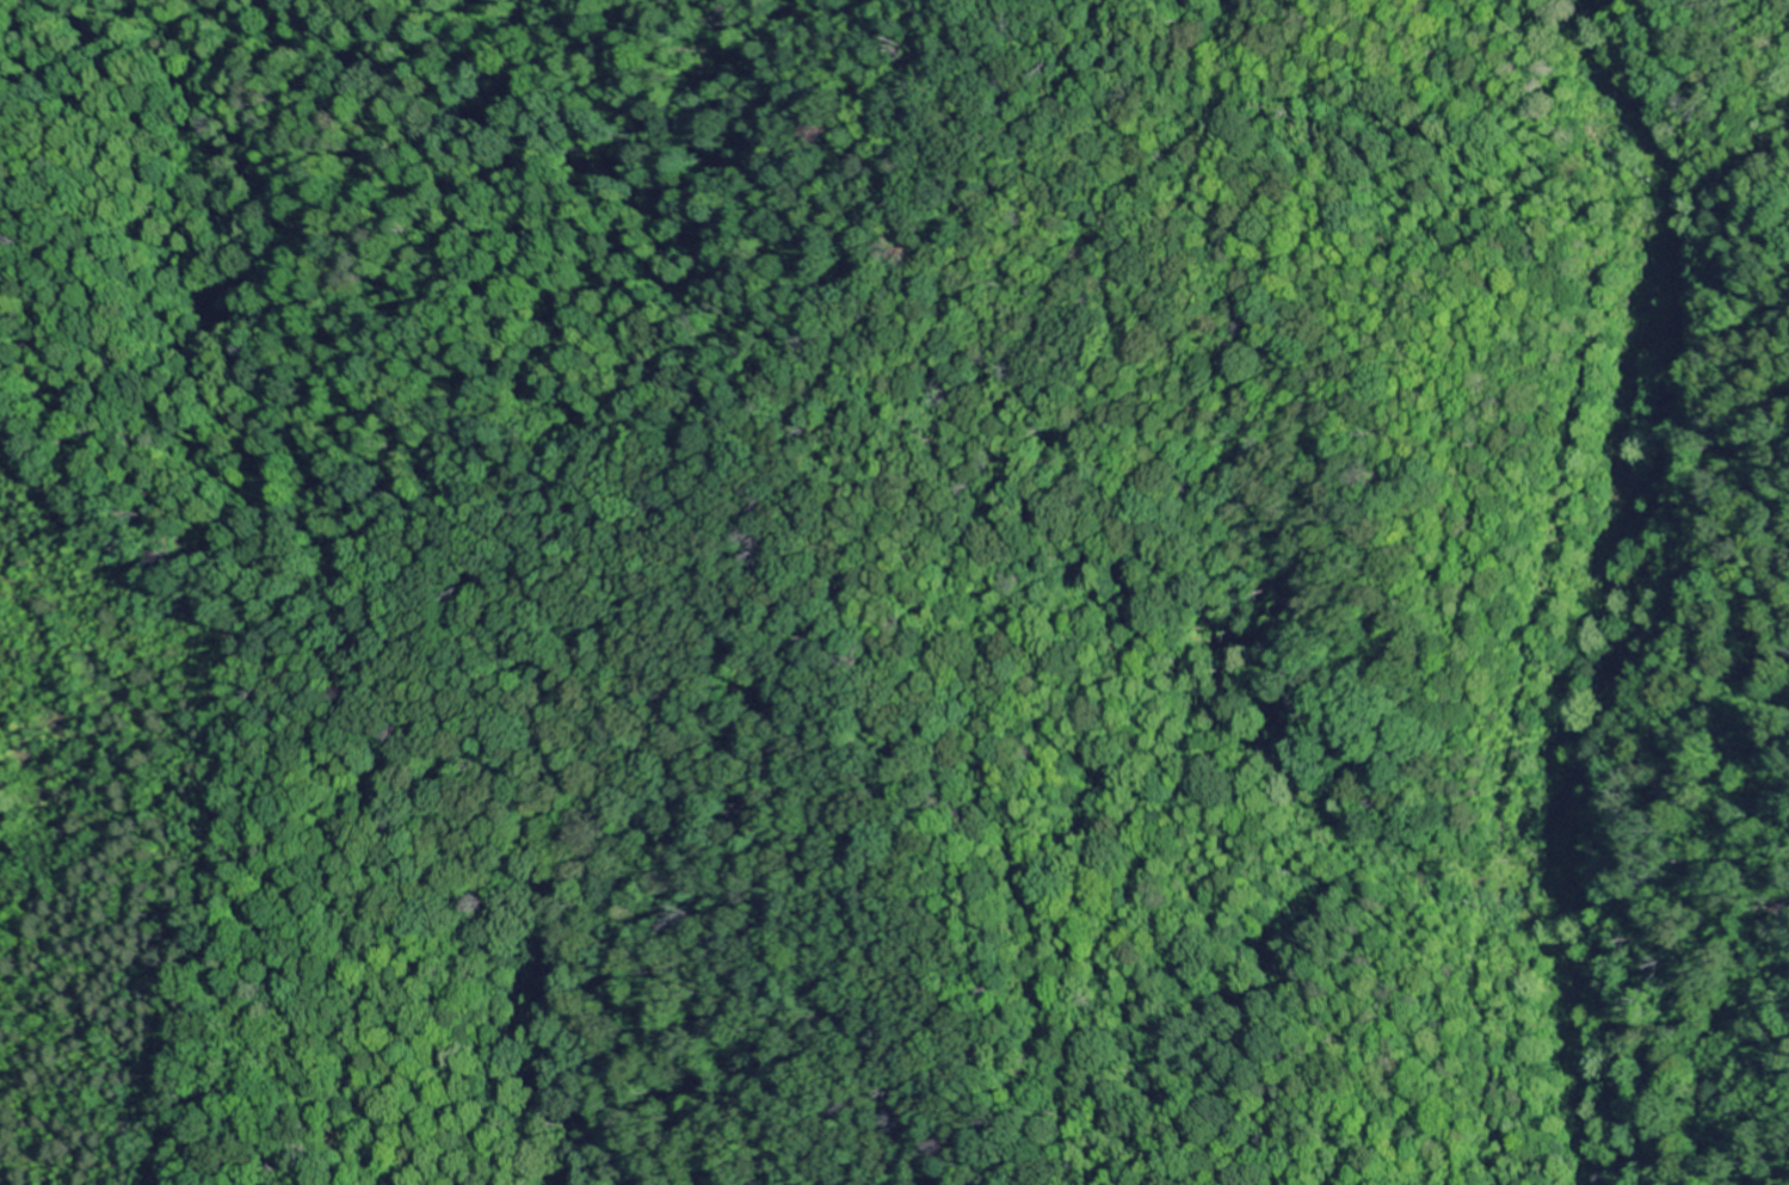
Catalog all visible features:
road: (1612, 1030)

